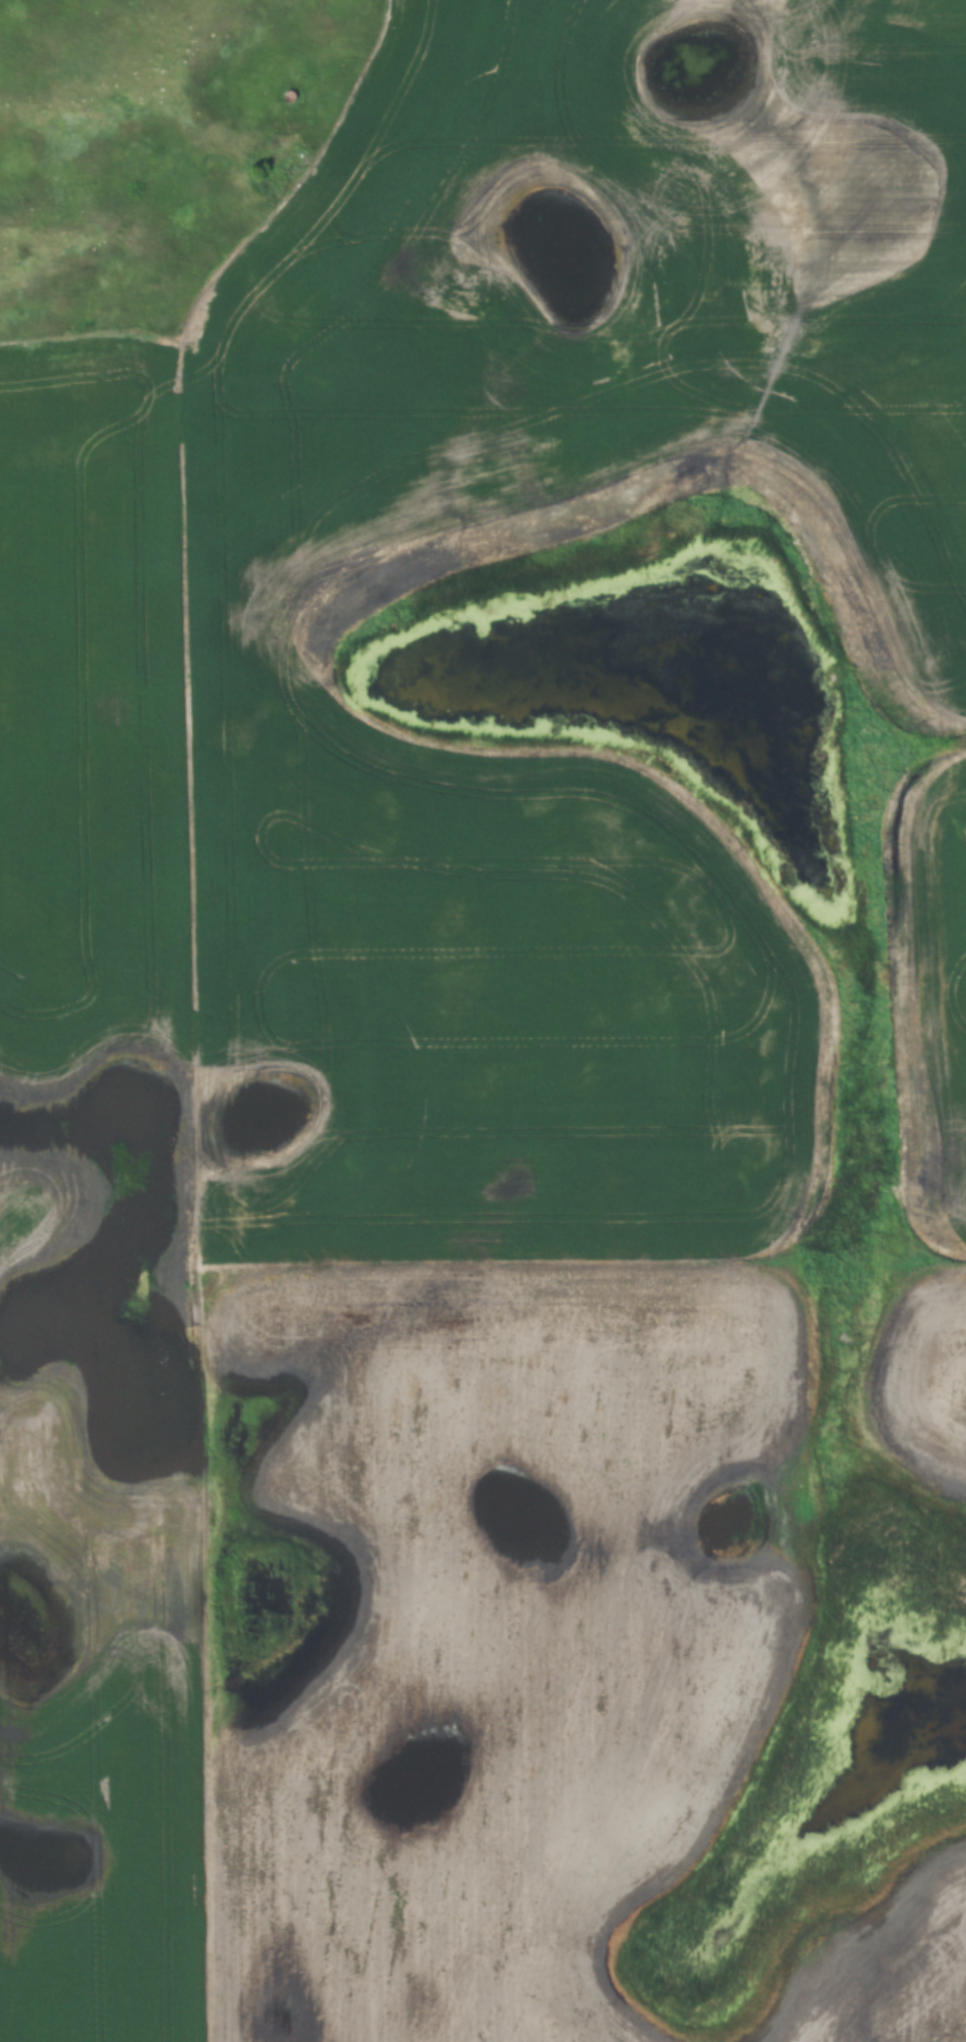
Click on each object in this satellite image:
road: (199, 1098)

